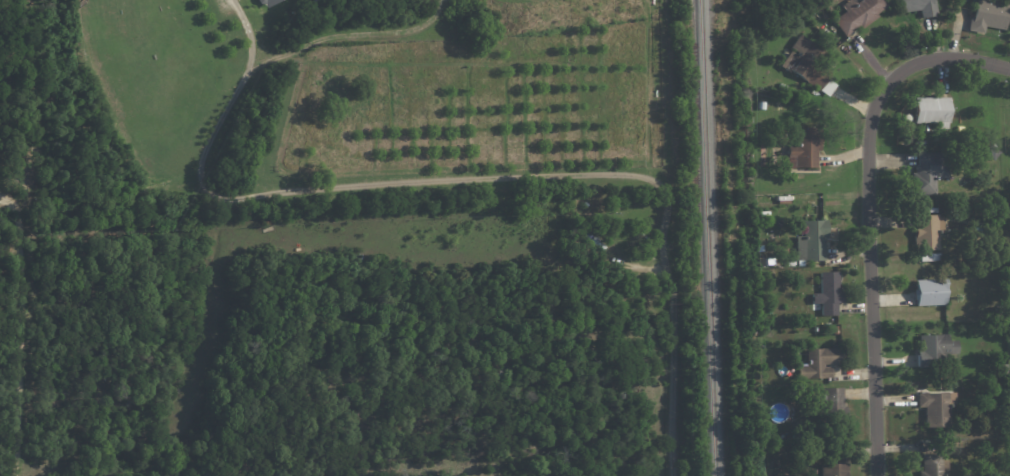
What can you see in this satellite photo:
building: (268, 2)
building: (315, 2)
building: (920, 7)
building: (859, 14)
building: (989, 16)
road: (343, 31)
building: (827, 31)
road: (943, 54)
building: (808, 65)
building: (763, 105)
building: (933, 111)
building: (805, 148)
building: (992, 152)
building: (930, 172)
road: (398, 181)
building: (928, 232)
railway: (708, 238)
building: (1008, 239)
building: (813, 241)
building: (931, 257)
road: (872, 279)
building: (765, 280)
building: (931, 292)
building: (829, 294)
building: (1000, 312)
building: (836, 330)
road: (24, 333)
building: (936, 351)
building: (820, 363)
building: (1003, 369)
road: (673, 394)
building: (832, 409)
building: (939, 409)
building: (833, 450)
building: (935, 465)
building: (835, 470)

